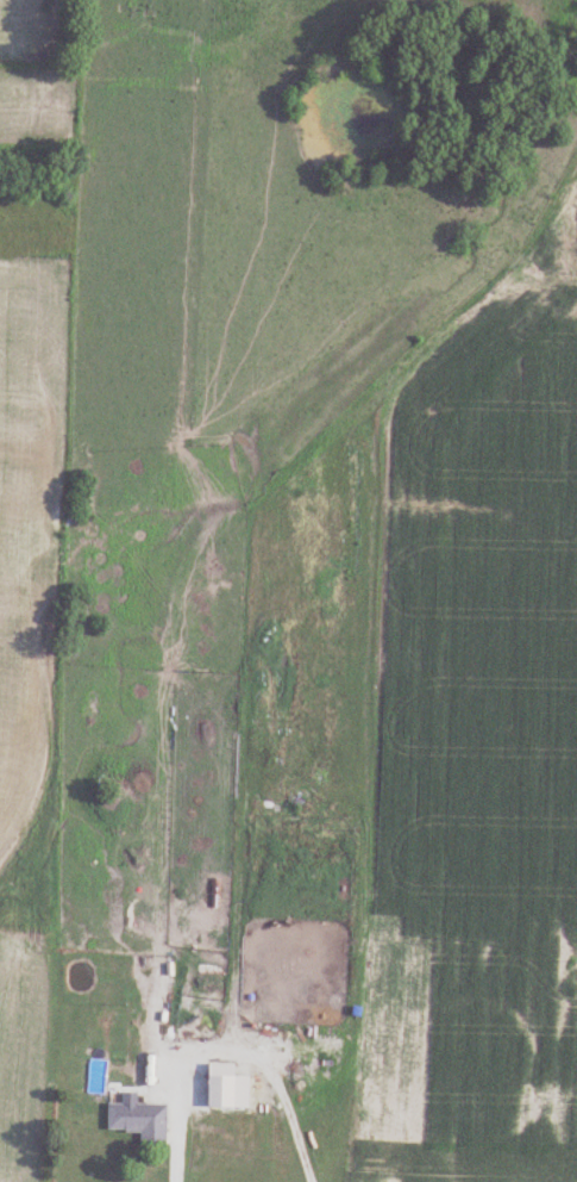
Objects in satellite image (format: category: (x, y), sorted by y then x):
road: (226, 1045)
building: (140, 1121)

